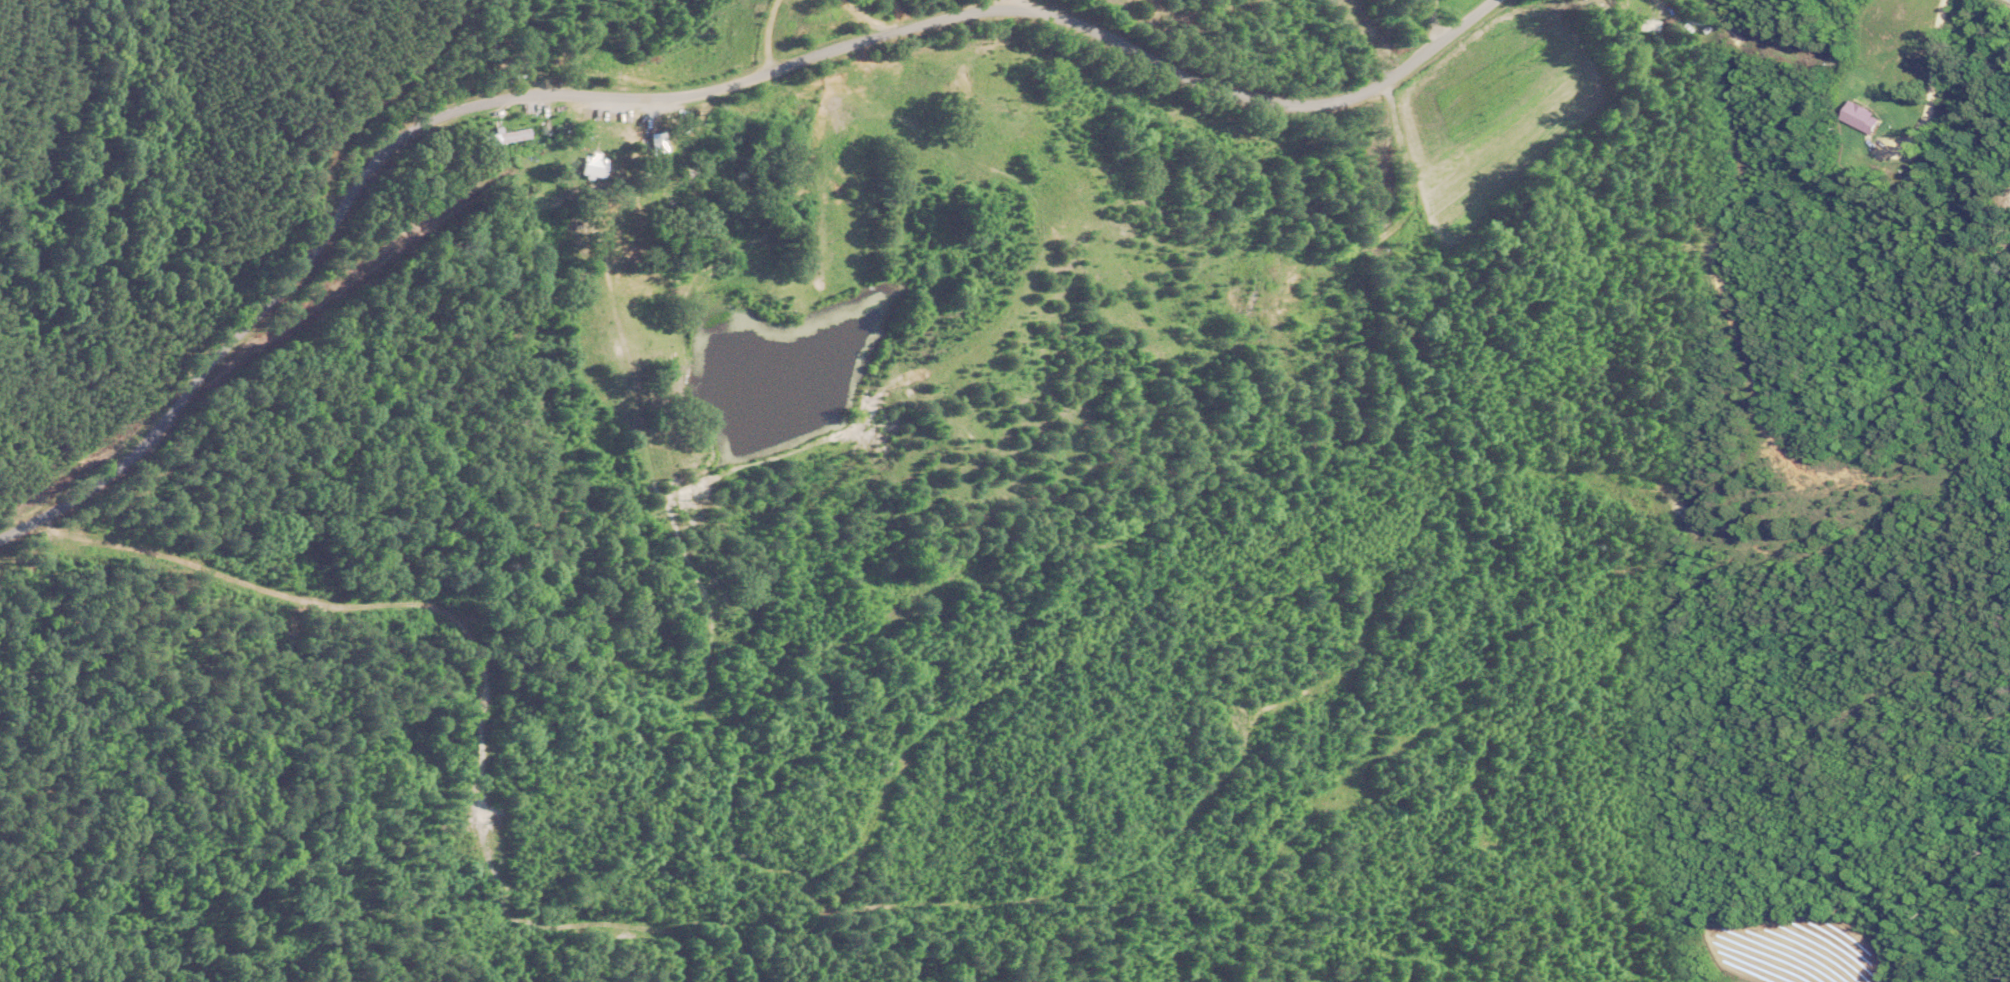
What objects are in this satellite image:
road: (1009, 5)
road: (863, 19)
building: (1644, 19)
road: (763, 34)
road: (1929, 91)
road: (685, 93)
building: (1858, 117)
building: (598, 167)
building: (1250, 296)

